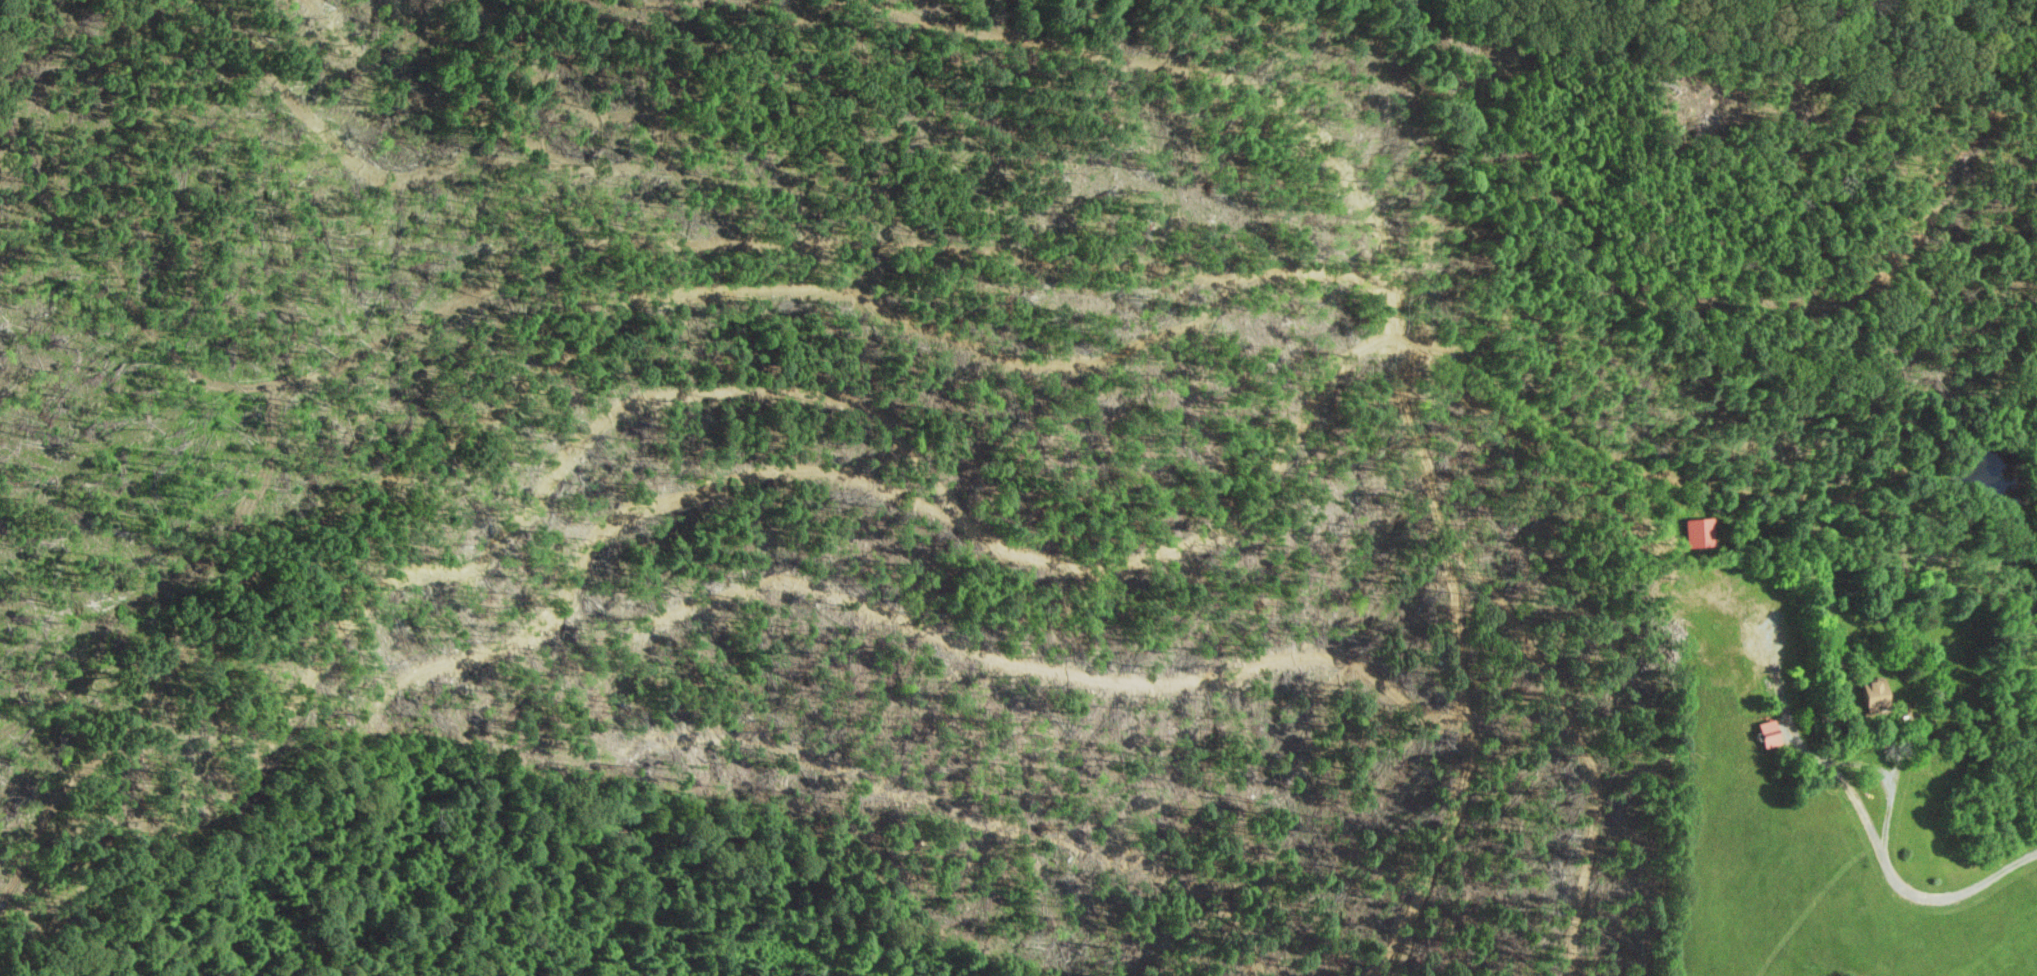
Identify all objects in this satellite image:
road: (1926, 462)
road: (1772, 551)
road: (1828, 625)
building: (1871, 691)
building: (1766, 731)

